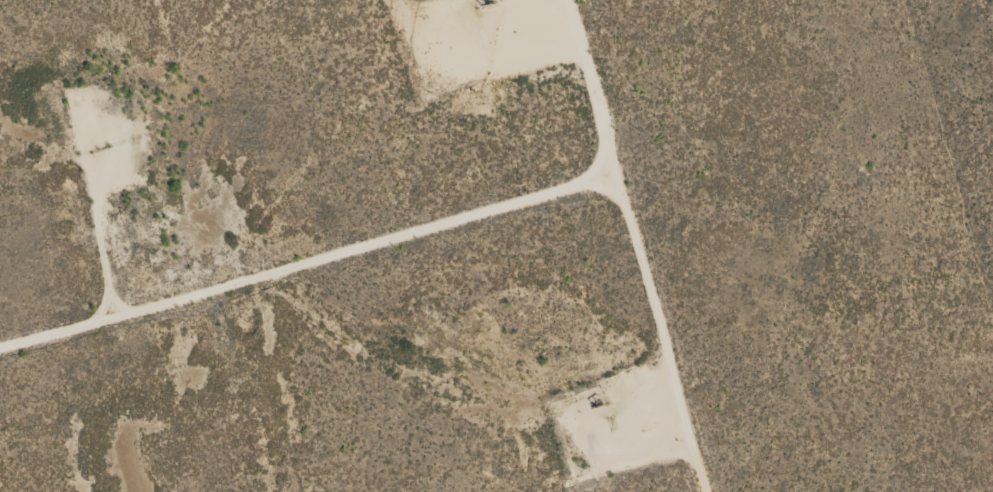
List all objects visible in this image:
road: (645, 245)
road: (313, 261)

